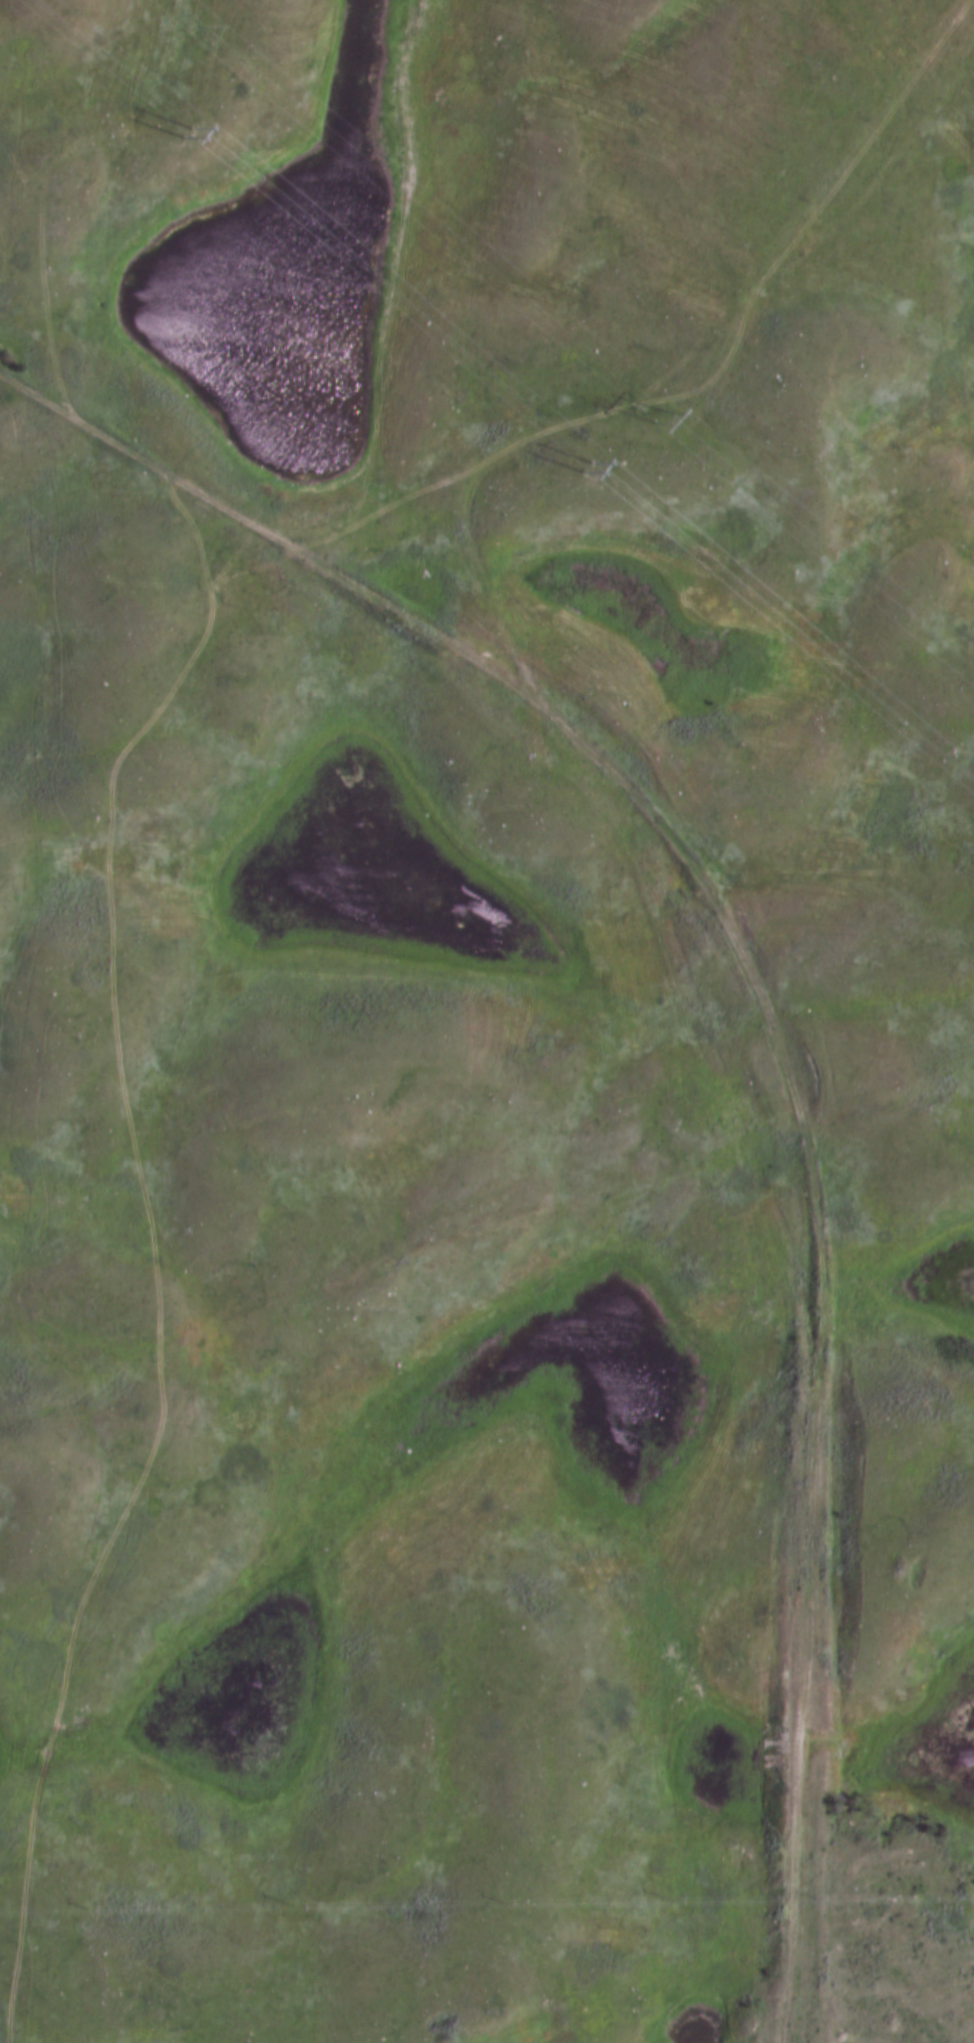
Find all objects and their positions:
power tower: (655, 416)
road: (763, 1022)

